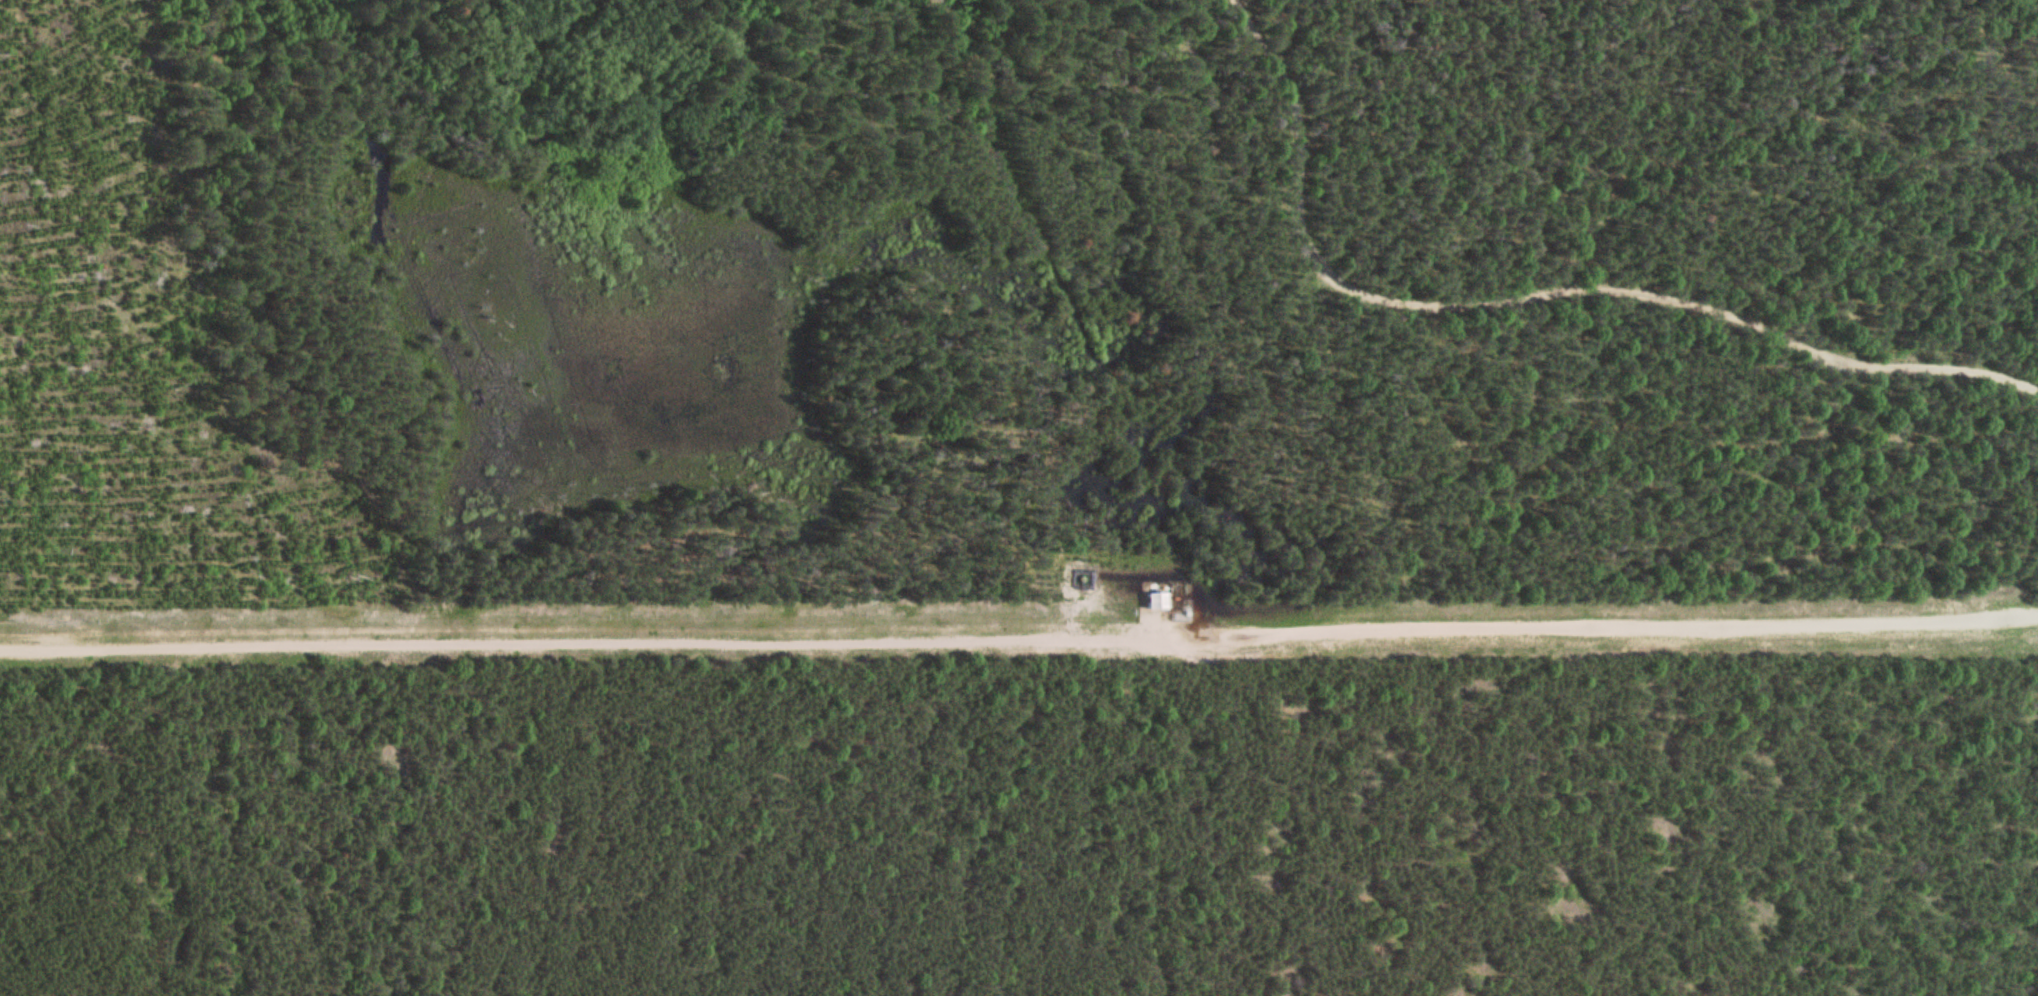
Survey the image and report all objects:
road: (1537, 295)
road: (1065, 317)
road: (1019, 635)

